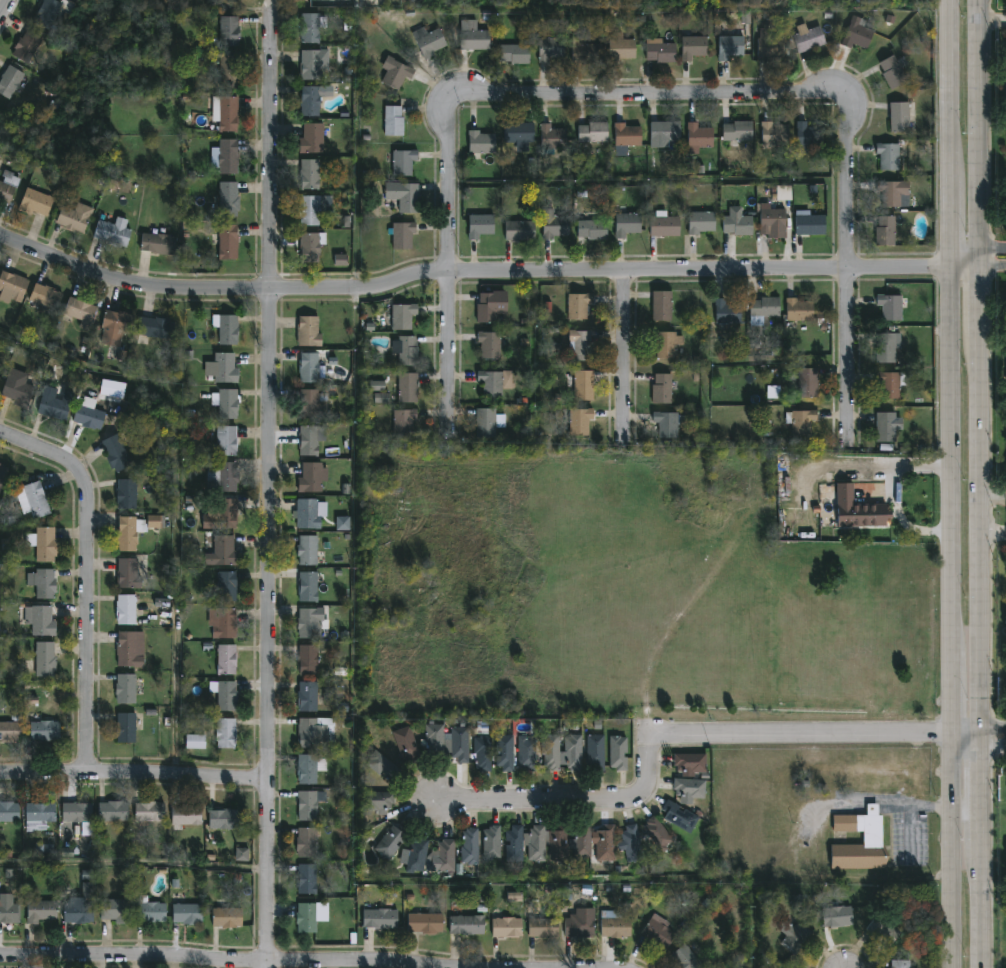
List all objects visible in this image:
road: (4, 8)
building: (49, 13)
building: (745, 17)
road: (991, 20)
building: (309, 27)
building: (225, 30)
building: (854, 34)
building: (470, 36)
building: (806, 39)
building: (425, 41)
building: (727, 45)
building: (29, 46)
building: (691, 46)
building: (547, 48)
building: (619, 48)
building: (768, 48)
building: (583, 50)
building: (659, 51)
building: (513, 53)
building: (309, 65)
building: (226, 72)
building: (393, 72)
building: (889, 72)
building: (12, 81)
road: (948, 84)
road: (650, 85)
park: (121, 87)
building: (307, 101)
building: (222, 114)
building: (897, 116)
building: (391, 121)
building: (590, 132)
building: (662, 132)
building: (735, 134)
building: (773, 134)
building: (516, 135)
building: (623, 135)
building: (696, 135)
building: (807, 136)
building: (550, 137)
building: (309, 138)
building: (478, 144)
building: (886, 156)
building: (222, 157)
building: (400, 162)
building: (306, 174)
building: (9, 188)
building: (783, 193)
building: (891, 193)
building: (399, 197)
building: (225, 200)
building: (38, 203)
building: (309, 209)
building: (1005, 213)
building: (77, 216)
road: (948, 216)
building: (768, 219)
building: (699, 222)
building: (624, 224)
building: (807, 224)
building: (551, 225)
building: (662, 225)
building: (735, 225)
building: (477, 226)
building: (517, 231)
building: (589, 231)
building: (116, 232)
building: (883, 232)
building: (400, 235)
building: (223, 242)
building: (158, 243)
building: (308, 246)
road: (975, 249)
building: (340, 260)
road: (450, 261)
road: (846, 264)
road: (976, 269)
road: (468, 272)
building: (13, 287)
building: (49, 297)
building: (488, 306)
building: (576, 306)
building: (659, 306)
building: (888, 306)
building: (762, 308)
building: (796, 310)
building: (83, 312)
building: (724, 314)
building: (400, 316)
building: (118, 324)
building: (223, 327)
building: (153, 328)
building: (305, 331)
building: (487, 344)
building: (663, 345)
building: (580, 346)
building: (884, 349)
building: (405, 351)
road: (625, 358)
building: (219, 367)
building: (305, 368)
building: (0, 379)
building: (488, 383)
building: (806, 383)
building: (888, 384)
building: (582, 385)
building: (377, 386)
building: (405, 388)
building: (116, 389)
building: (659, 389)
building: (21, 390)
building: (773, 392)
building: (381, 398)
building: (222, 402)
building: (56, 404)
building: (310, 404)
building: (91, 414)
building: (577, 422)
building: (401, 423)
building: (483, 423)
building: (666, 423)
building: (799, 423)
building: (885, 427)
building: (222, 440)
building: (308, 440)
road: (948, 452)
building: (118, 454)
road: (914, 467)
building: (3, 474)
building: (218, 476)
building: (309, 477)
building: (716, 477)
building: (848, 479)
road: (977, 484)
road: (272, 491)
building: (123, 494)
building: (33, 498)
road: (992, 498)
building: (862, 512)
building: (223, 513)
building: (307, 513)
road: (902, 518)
building: (154, 521)
building: (770, 521)
building: (342, 523)
building: (125, 531)
road: (992, 532)
building: (45, 543)
building: (305, 549)
building: (219, 551)
building: (128, 571)
road: (89, 576)
building: (45, 582)
building: (305, 585)
building: (223, 586)
building: (123, 608)
building: (43, 619)
building: (308, 621)
building: (1005, 621)
building: (220, 622)
building: (1005, 631)
building: (127, 649)
building: (223, 658)
building: (47, 659)
building: (306, 659)
building: (123, 688)
road: (949, 688)
building: (222, 693)
building: (304, 696)
building: (123, 727)
road: (991, 728)
building: (47, 730)
building: (11, 731)
building: (312, 731)
building: (223, 732)
road: (670, 737)
road: (965, 737)
building: (431, 739)
building: (195, 742)
building: (403, 744)
building: (456, 744)
road: (991, 746)
building: (502, 751)
building: (548, 751)
building: (571, 751)
building: (593, 751)
building: (615, 751)
building: (480, 752)
building: (524, 753)
building: (687, 763)
building: (381, 766)
building: (307, 767)
road: (134, 781)
building: (687, 788)
building: (375, 800)
building: (304, 805)
road: (917, 806)
building: (10, 811)
building: (76, 811)
building: (110, 811)
building: (146, 811)
building: (43, 815)
building: (184, 815)
building: (677, 816)
building: (220, 818)
building: (655, 834)
building: (870, 837)
building: (303, 842)
building: (387, 842)
building: (488, 843)
building: (511, 843)
building: (534, 843)
building: (555, 843)
building: (629, 843)
building: (578, 845)
building: (467, 846)
road: (950, 852)
building: (241, 854)
building: (414, 854)
building: (443, 856)
building: (304, 878)
building: (10, 910)
building: (112, 910)
building: (39, 911)
building: (75, 911)
building: (147, 911)
building: (183, 913)
building: (834, 914)
building: (224, 917)
building: (303, 917)
building: (378, 918)
building: (422, 923)
building: (578, 923)
building: (464, 925)
building: (503, 927)
building: (540, 927)
building: (614, 927)
building: (881, 930)
building: (655, 933)
building: (792, 936)
building: (684, 958)
road: (225, 960)
building: (898, 964)

